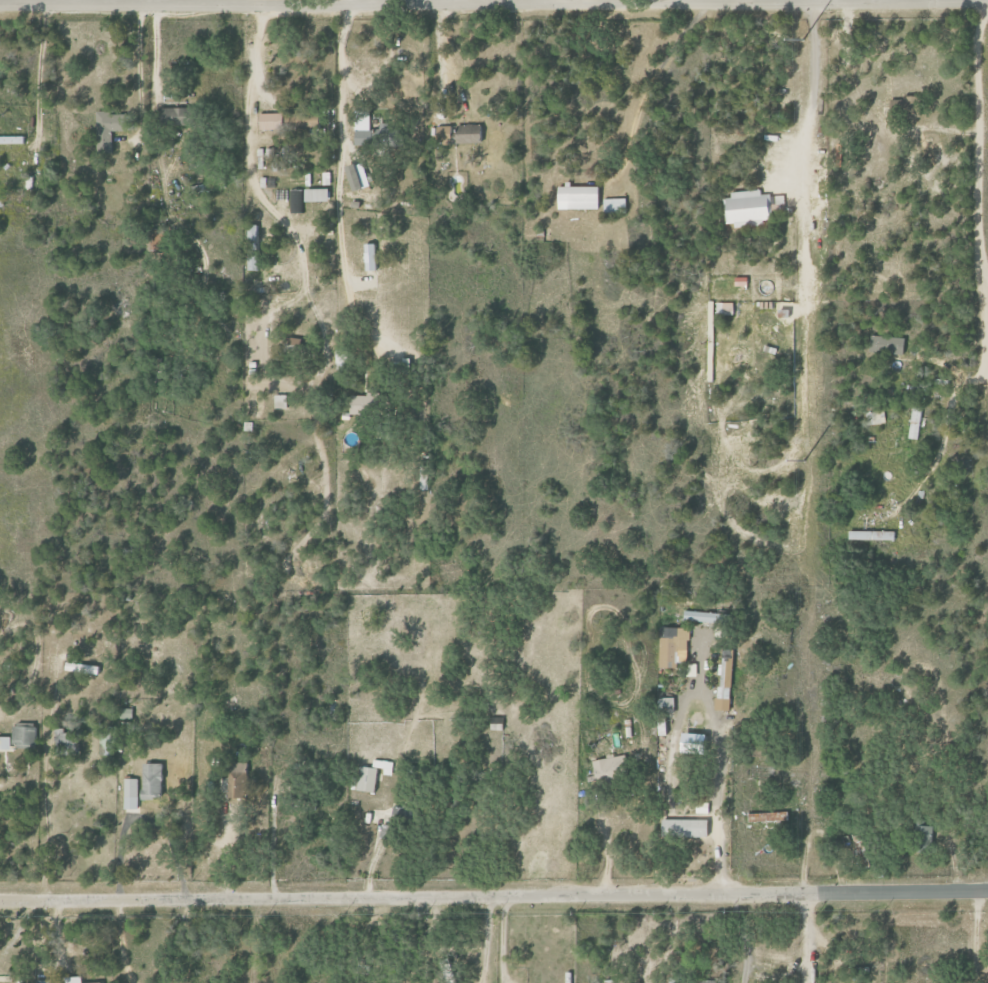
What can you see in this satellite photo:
road: (827, 0)
road: (584, 1)
road: (609, 1)
road: (32, 2)
road: (70, 2)
road: (157, 2)
road: (247, 2)
road: (441, 2)
road: (501, 2)
road: (298, 3)
road: (350, 3)
road: (493, 4)
power tower: (802, 39)
road: (140, 53)
road: (809, 91)
building: (909, 105)
building: (181, 117)
building: (310, 120)
building: (273, 121)
building: (111, 126)
building: (470, 134)
building: (375, 137)
building: (12, 140)
building: (271, 153)
road: (333, 161)
building: (357, 178)
building: (318, 195)
building: (579, 198)
building: (296, 202)
road: (986, 205)
building: (614, 206)
building: (745, 207)
building: (255, 247)
building: (372, 258)
road: (298, 263)
building: (738, 281)
road: (987, 284)
building: (886, 344)
building: (340, 360)
road: (987, 373)
building: (280, 402)
building: (365, 404)
building: (260, 405)
building: (878, 416)
building: (914, 423)
road: (942, 436)
power tower: (803, 461)
building: (870, 535)
building: (702, 616)
building: (670, 647)
building: (82, 667)
building: (727, 677)
building: (496, 723)
building: (664, 727)
building: (20, 736)
building: (65, 742)
building: (106, 743)
road: (664, 745)
building: (611, 766)
building: (373, 775)
road: (44, 779)
building: (238, 779)
building: (153, 780)
road: (713, 788)
building: (131, 793)
building: (768, 818)
building: (387, 831)
building: (923, 836)
building: (858, 844)
road: (600, 848)
road: (223, 851)
road: (493, 896)
road: (17, 928)
road: (804, 938)
road: (496, 940)
road: (120, 942)
building: (75, 980)
building: (48, 981)
building: (610, 981)
building: (707, 981)
building: (100, 982)

